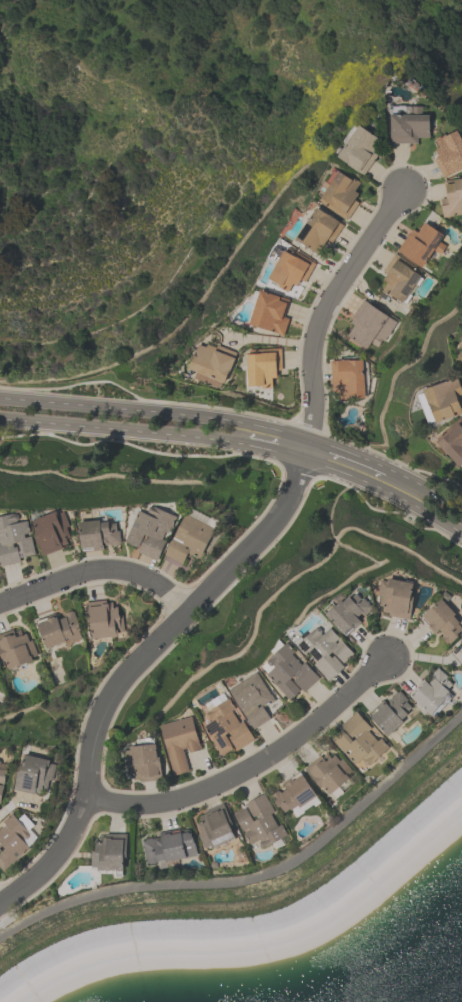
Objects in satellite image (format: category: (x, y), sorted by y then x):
building: (410, 126)
park: (170, 140)
building: (360, 150)
building: (449, 153)
building: (341, 195)
building: (452, 198)
building: (318, 230)
building: (420, 244)
building: (290, 269)
building: (399, 278)
road: (328, 305)
building: (269, 312)
building: (369, 325)
building: (460, 344)
building: (460, 355)
building: (212, 364)
building: (262, 366)
building: (346, 378)
building: (444, 399)
road: (154, 412)
road: (123, 431)
building: (452, 441)
road: (275, 451)
road: (348, 452)
road: (425, 488)
road: (384, 491)
building: (52, 530)
building: (151, 531)
building: (98, 534)
building: (191, 538)
building: (15, 540)
road: (99, 575)
building: (396, 597)
building: (351, 611)
building: (104, 620)
building: (443, 621)
building: (62, 629)
building: (461, 641)
building: (17, 649)
building: (326, 652)
road: (137, 666)
building: (290, 673)
building: (434, 691)
building: (253, 699)
building: (392, 714)
building: (227, 729)
building: (361, 740)
building: (180, 742)
building: (0, 762)
building: (143, 762)
road: (253, 767)
building: (328, 772)
building: (35, 775)
building: (3, 776)
building: (1, 793)
building: (294, 793)
building: (259, 823)
building: (217, 827)
building: (12, 844)
building: (172, 846)
building: (111, 854)
road: (255, 877)
dam: (337, 885)

